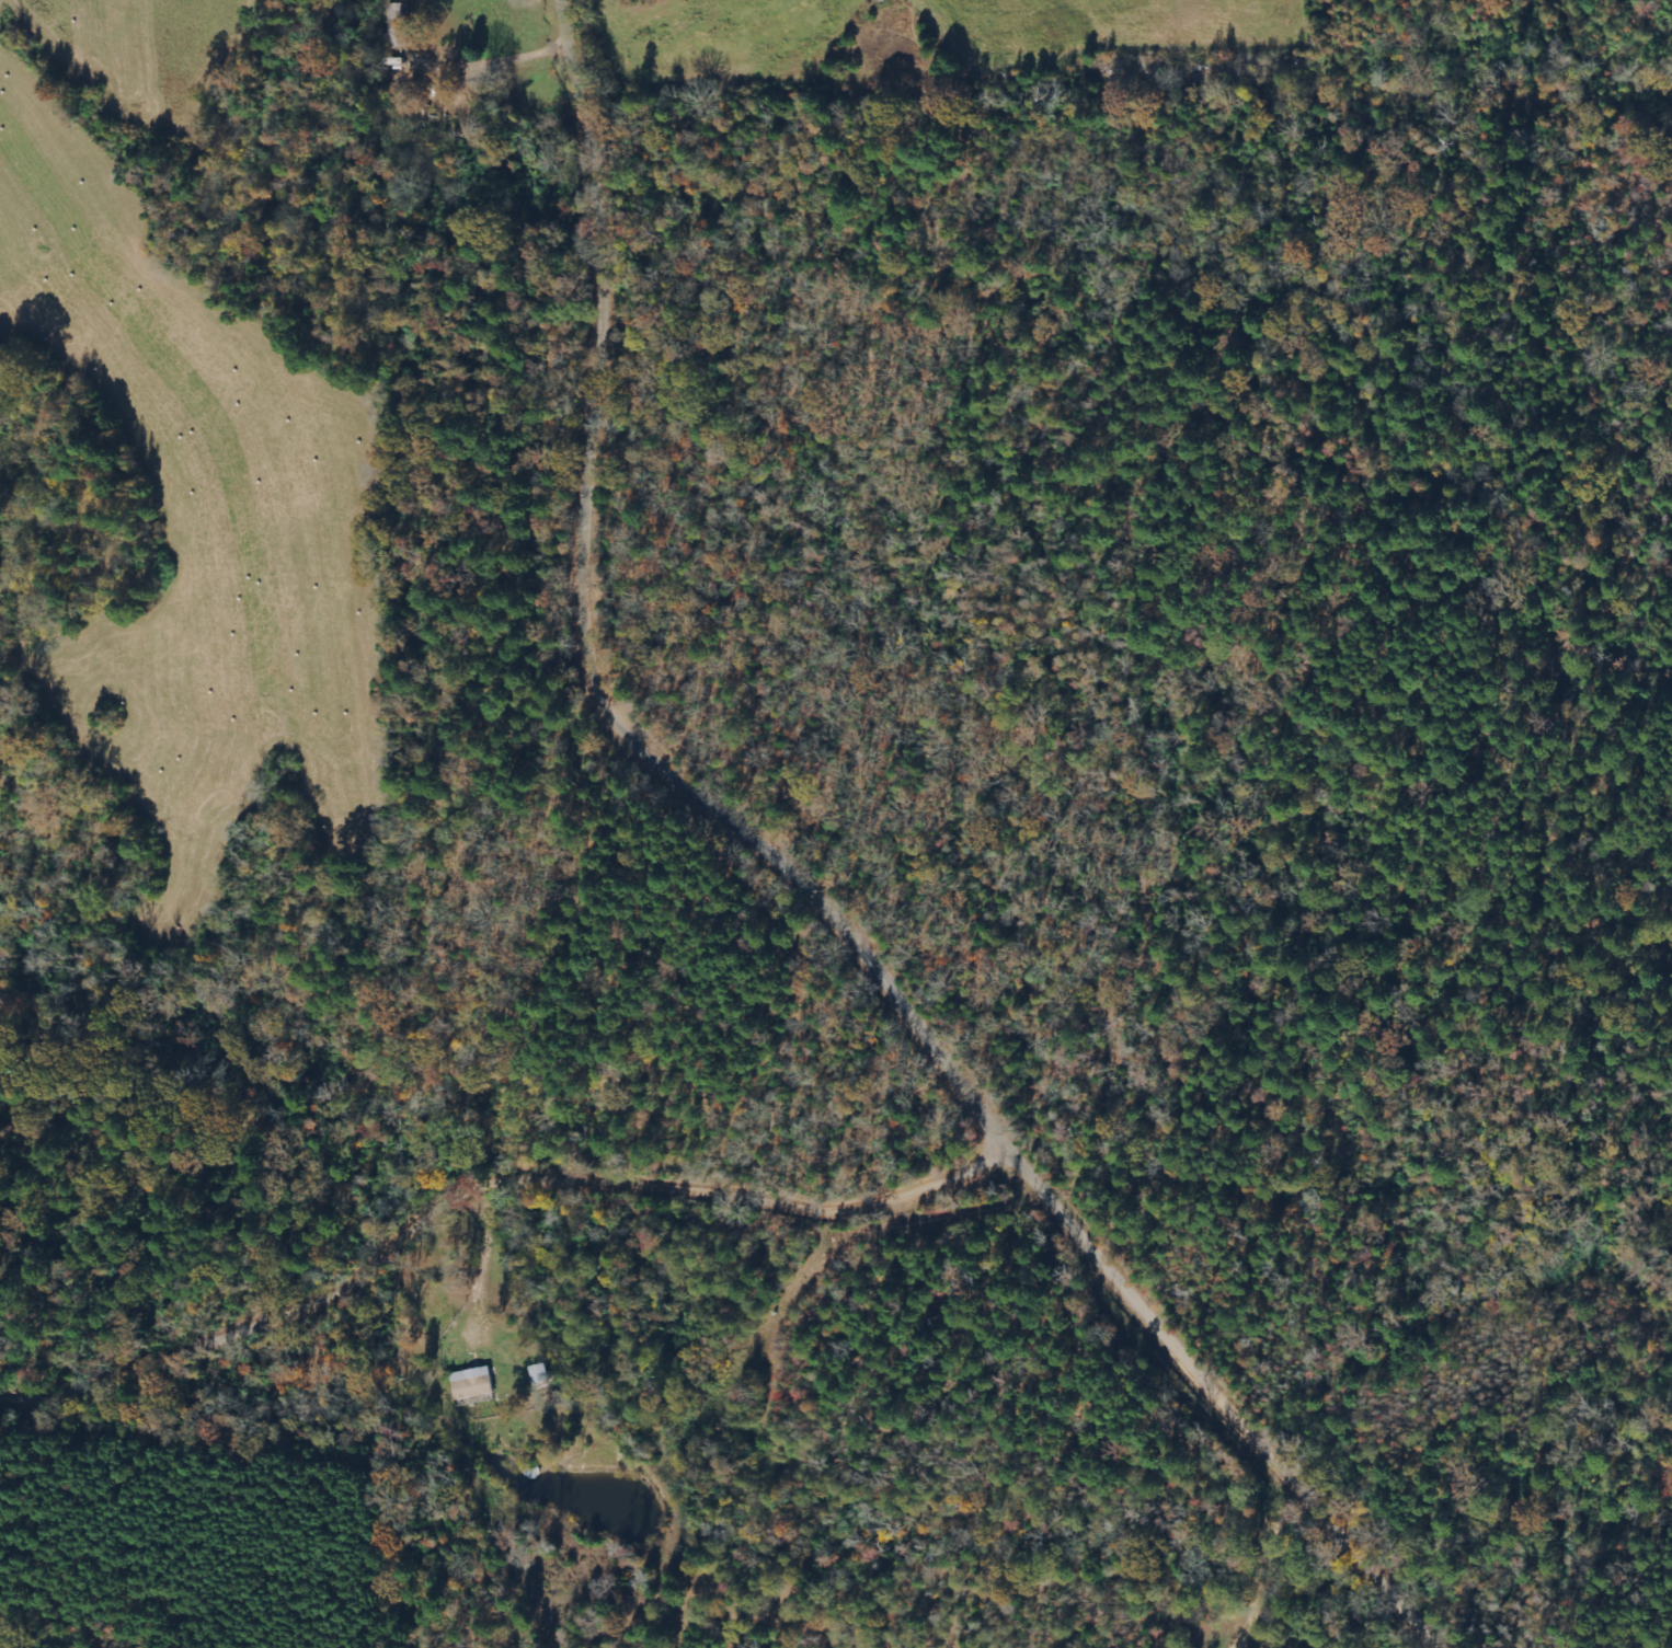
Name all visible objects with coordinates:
building: (401, 24)
road: (810, 889)
road: (486, 1190)
building: (541, 1374)
building: (473, 1384)

